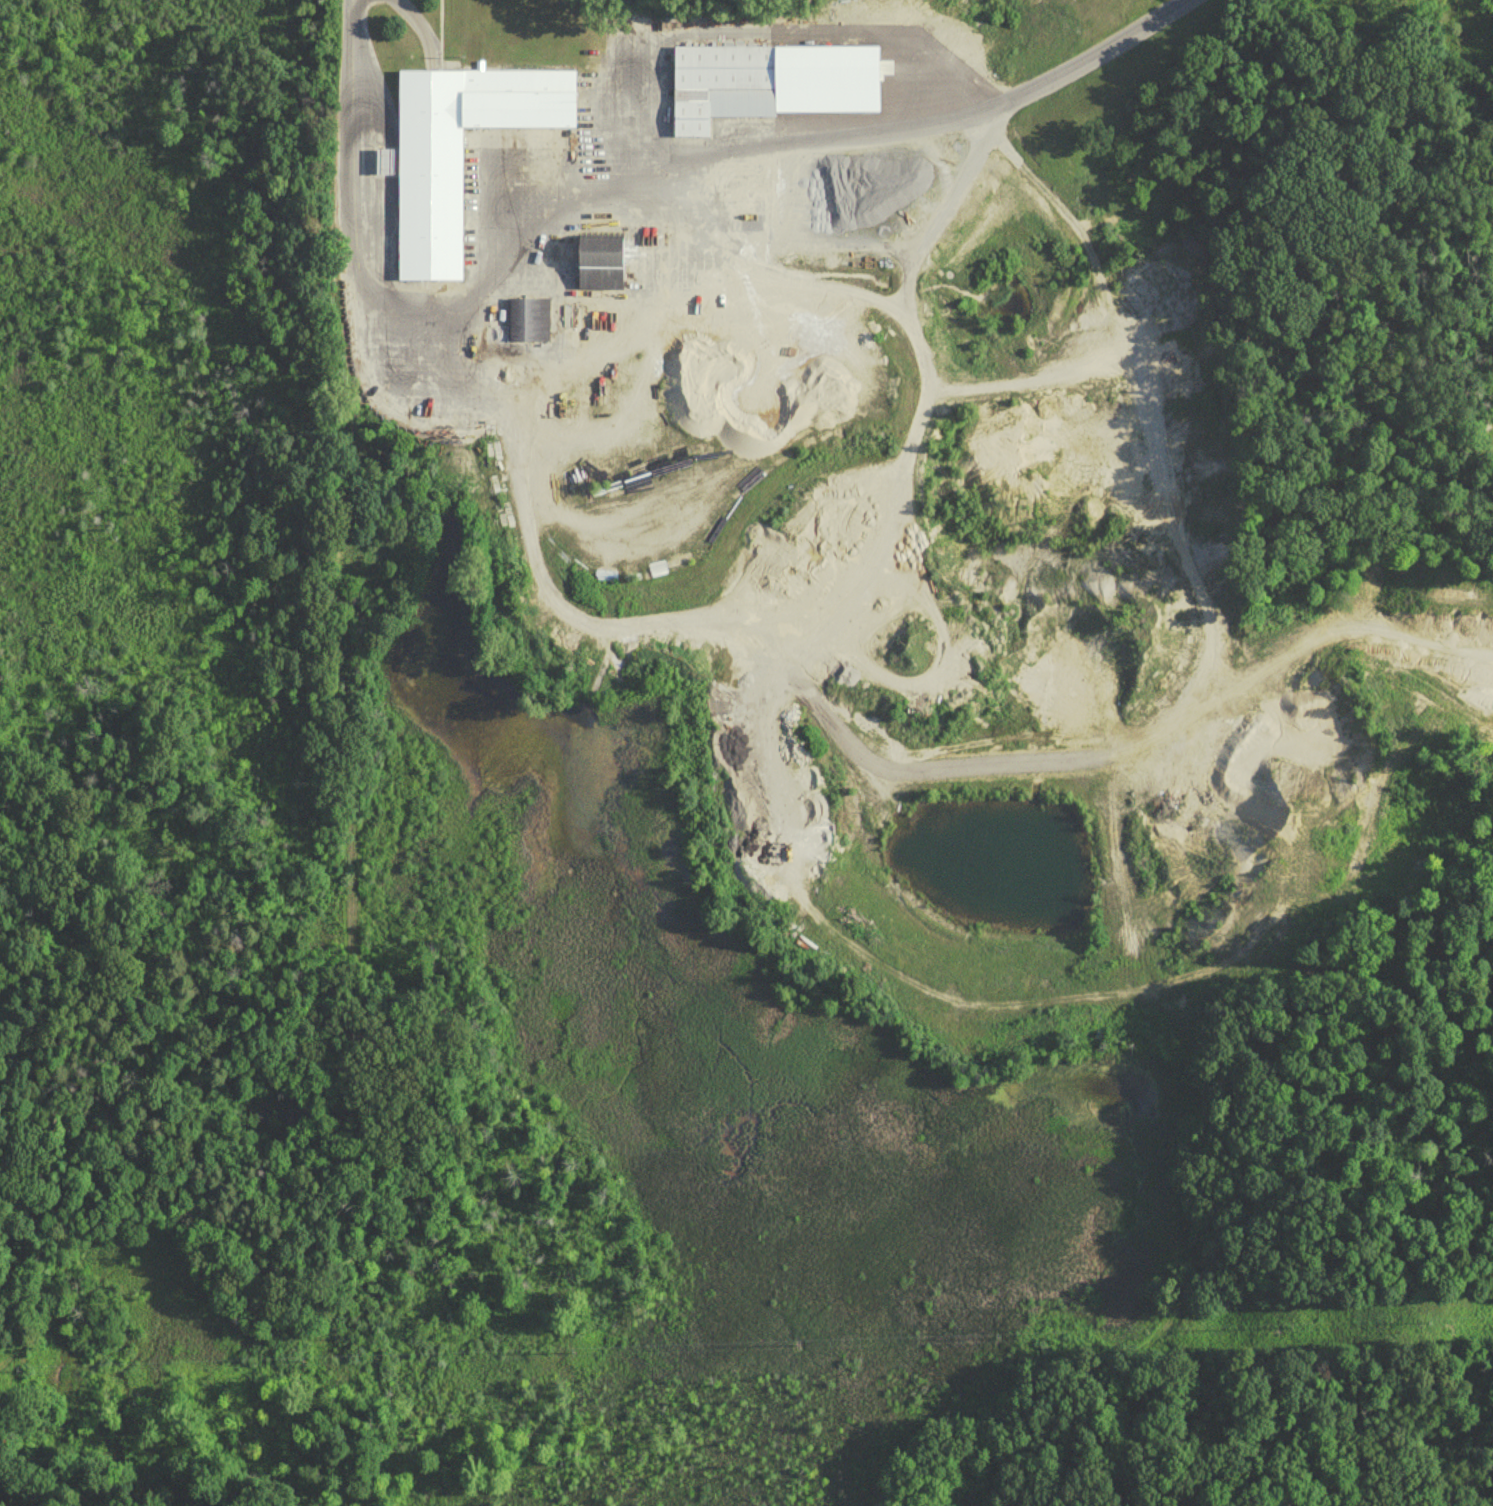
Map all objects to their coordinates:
road: (415, 24)
building: (720, 83)
building: (458, 148)
road: (751, 155)
building: (602, 260)
building: (525, 317)
road: (469, 381)
road: (924, 392)

